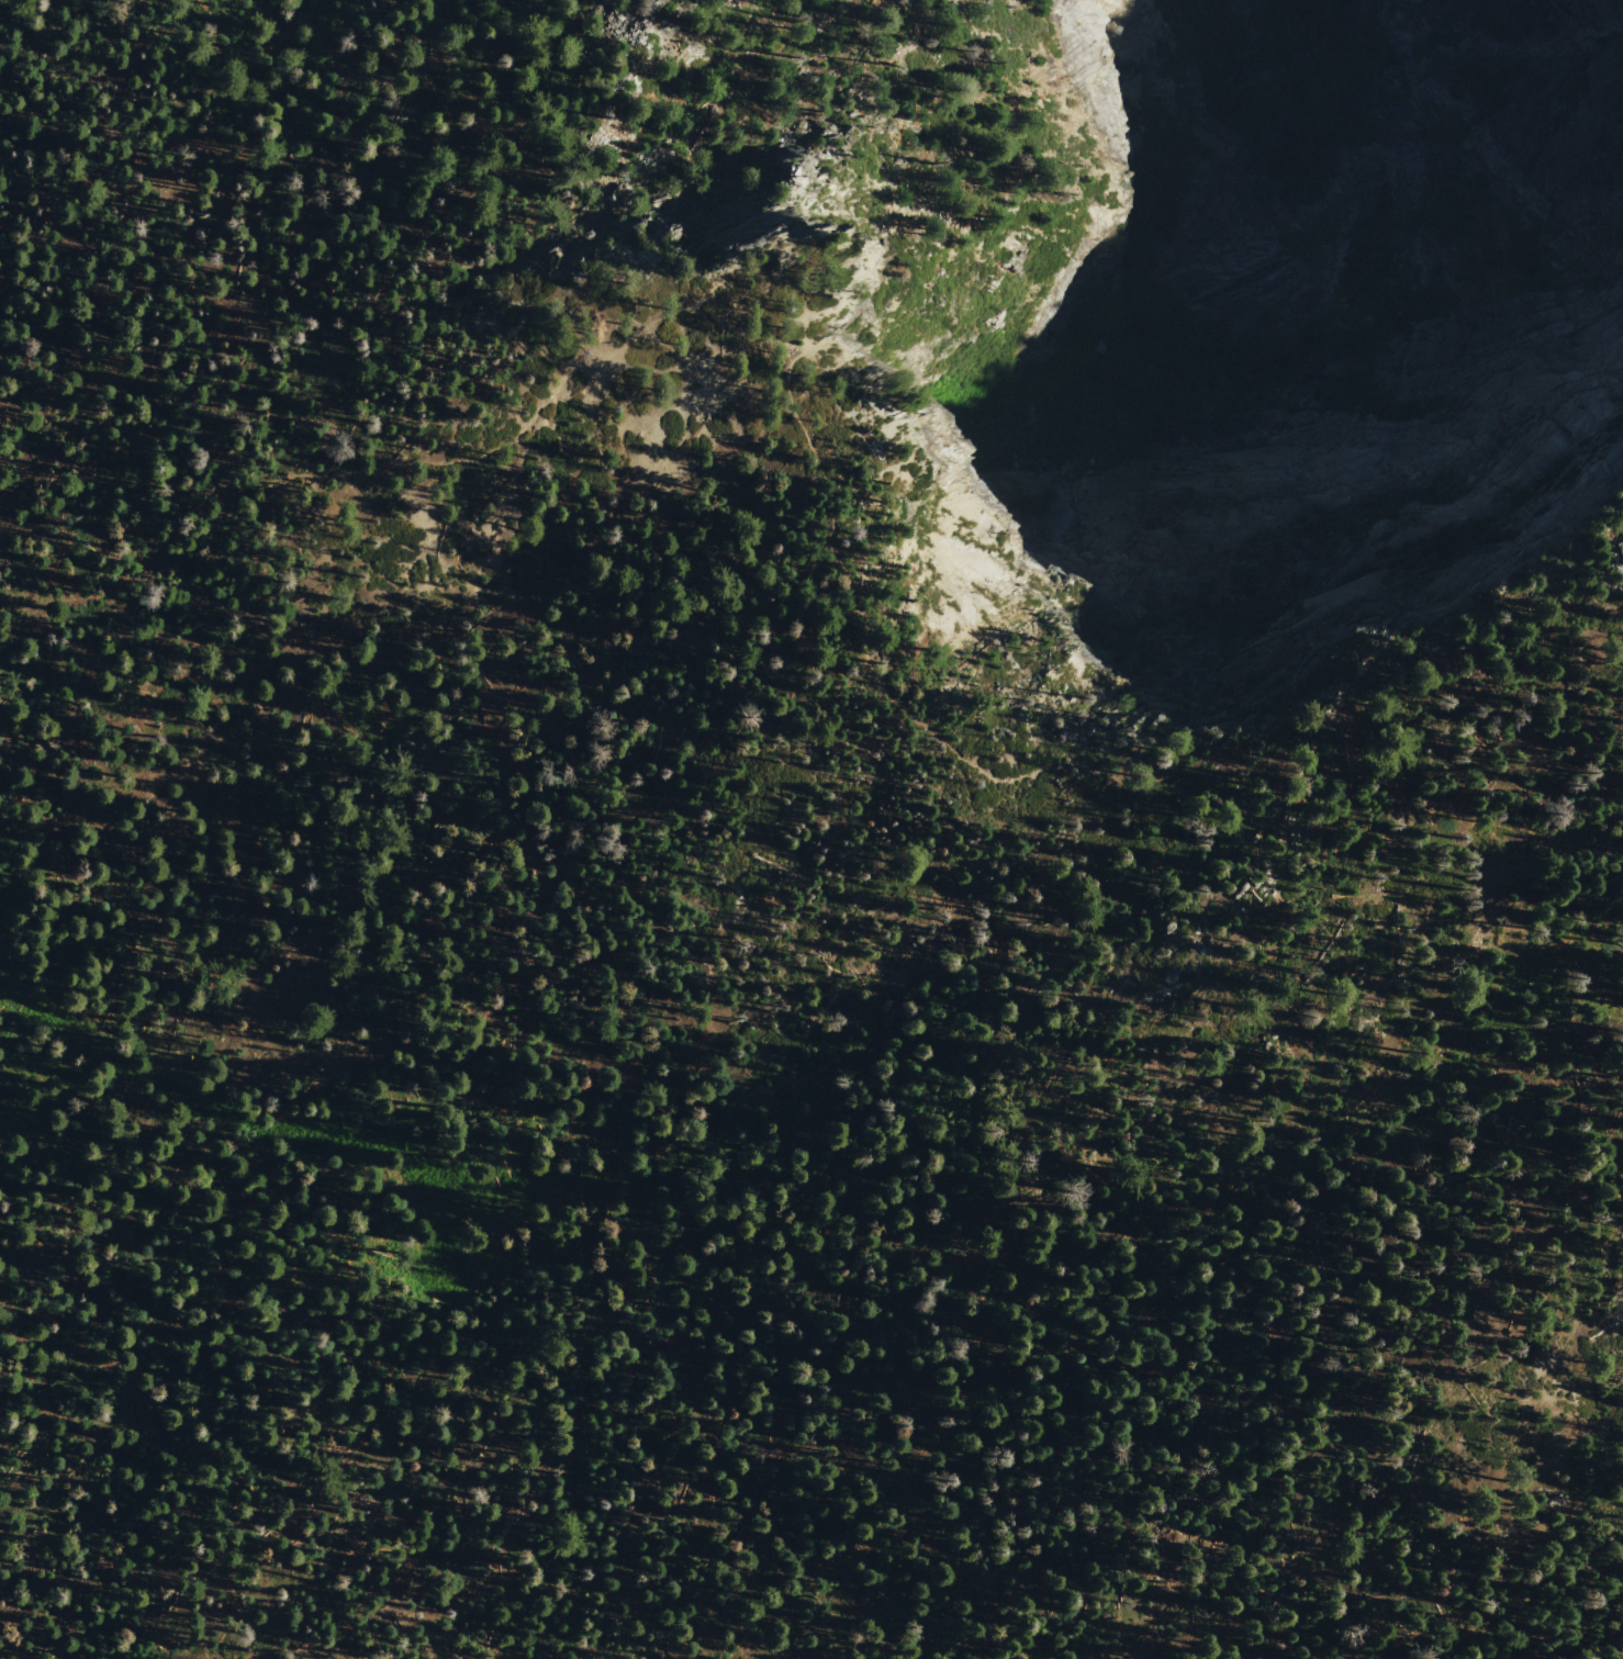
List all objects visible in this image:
road: (831, 504)

